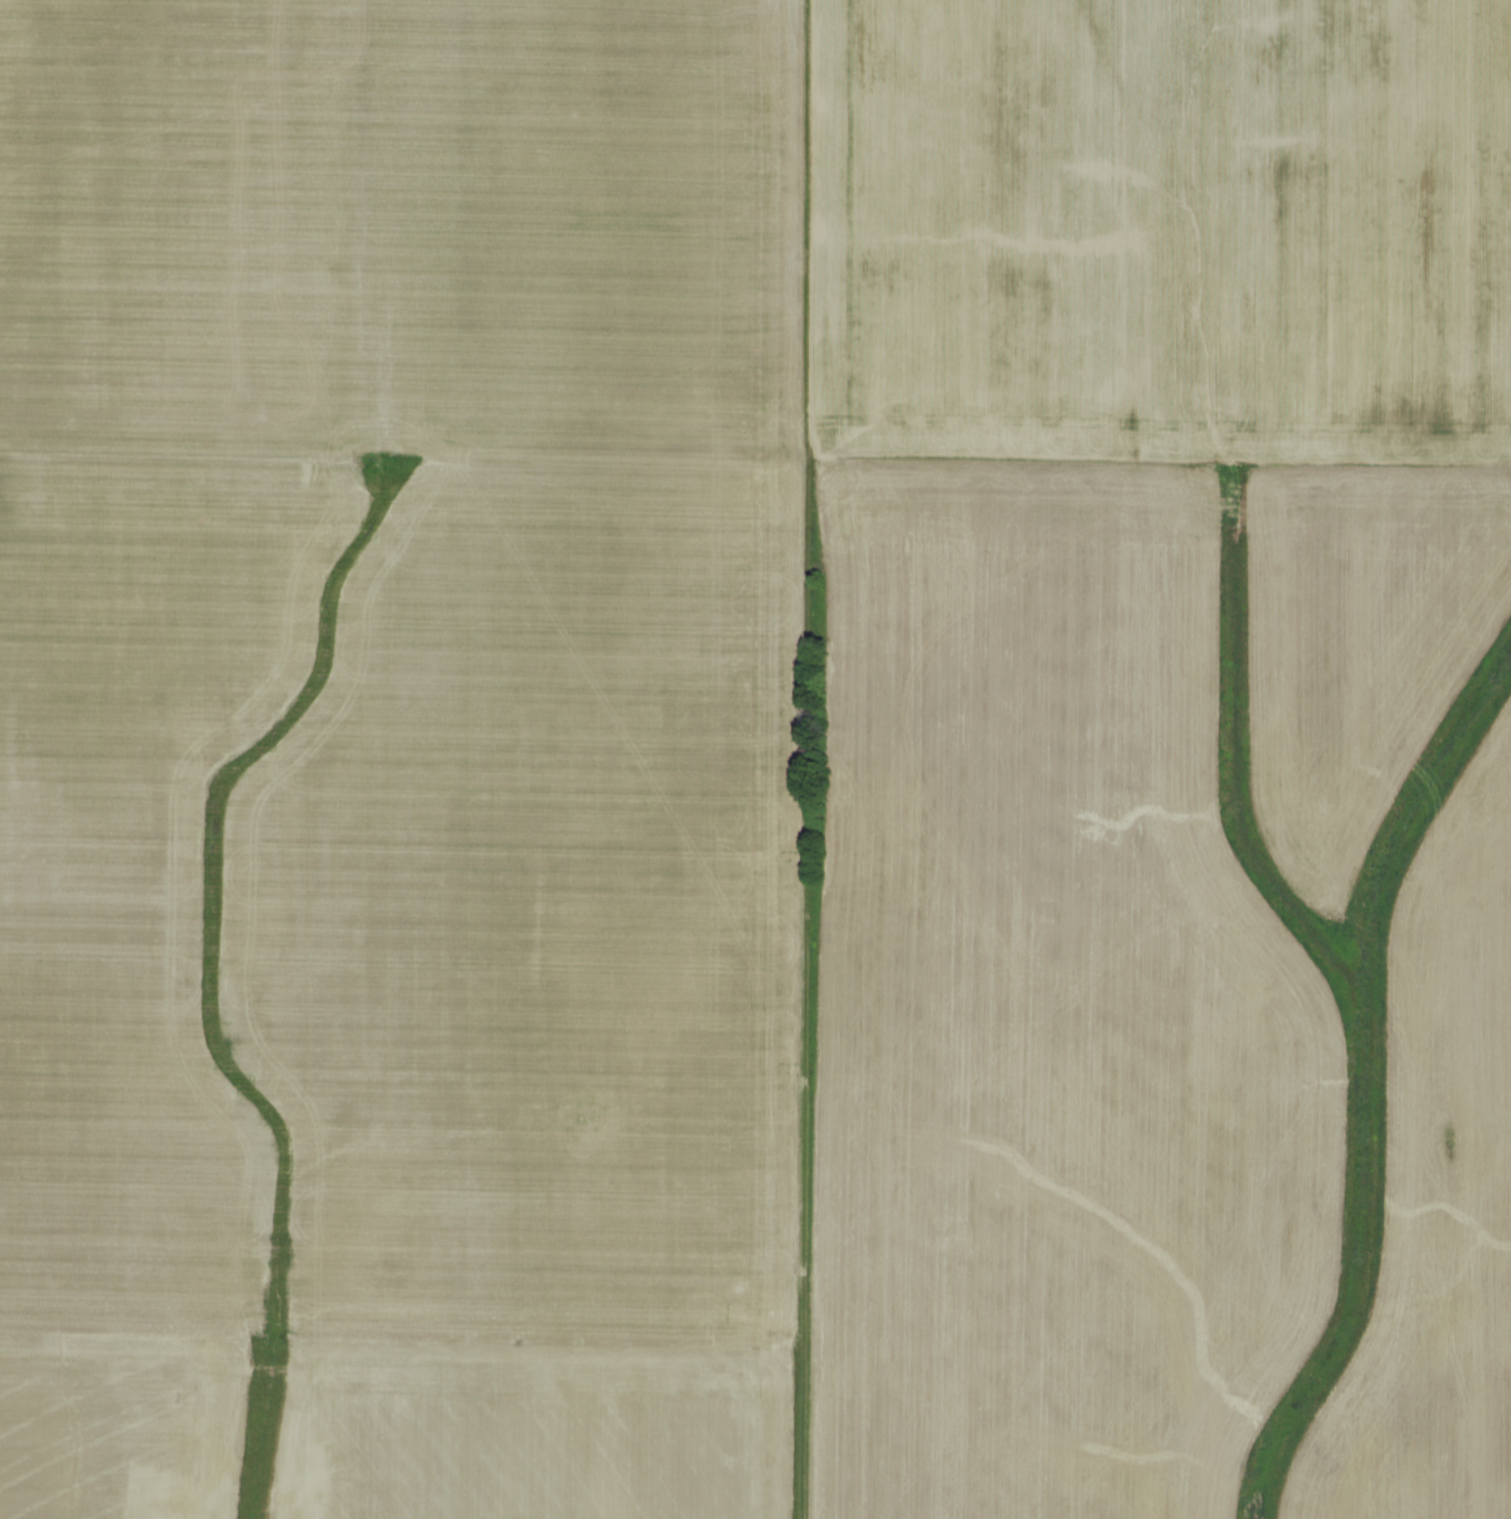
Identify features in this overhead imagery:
road: (802, 759)

